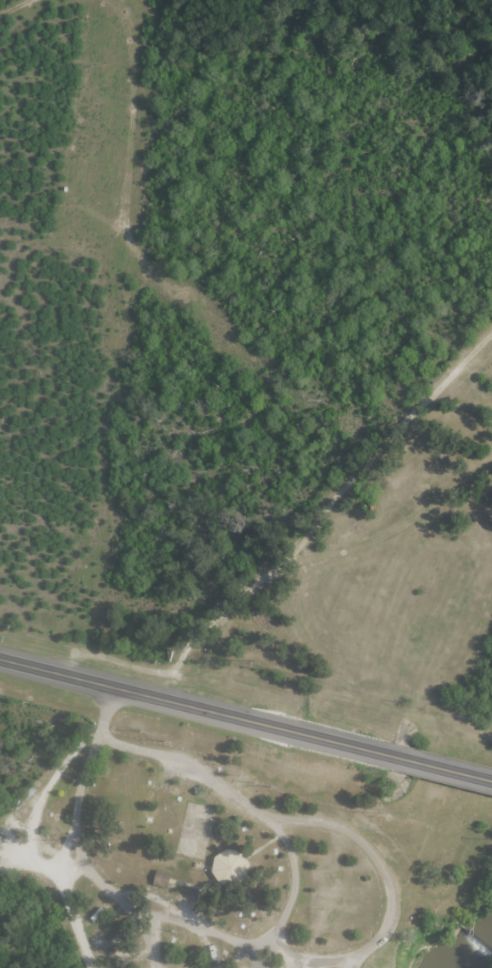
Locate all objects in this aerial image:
road: (462, 399)
road: (476, 446)
road: (428, 468)
road: (312, 523)
road: (414, 588)
road: (417, 599)
road: (179, 662)
road: (322, 665)
road: (422, 699)
road: (197, 704)
road: (107, 710)
road: (490, 717)
park: (291, 730)
road: (100, 740)
road: (443, 766)
road: (255, 808)
road: (40, 809)
road: (291, 823)
park: (196, 830)
road: (215, 843)
road: (264, 844)
road: (67, 848)
building: (230, 868)
building: (164, 879)
road: (390, 881)
road: (208, 882)
road: (185, 884)
road: (106, 890)
road: (199, 897)
road: (451, 910)
road: (72, 912)
dam: (472, 939)
river: (473, 942)
road: (156, 943)
road: (284, 950)
road: (253, 957)
road: (232, 961)
road: (328, 965)

